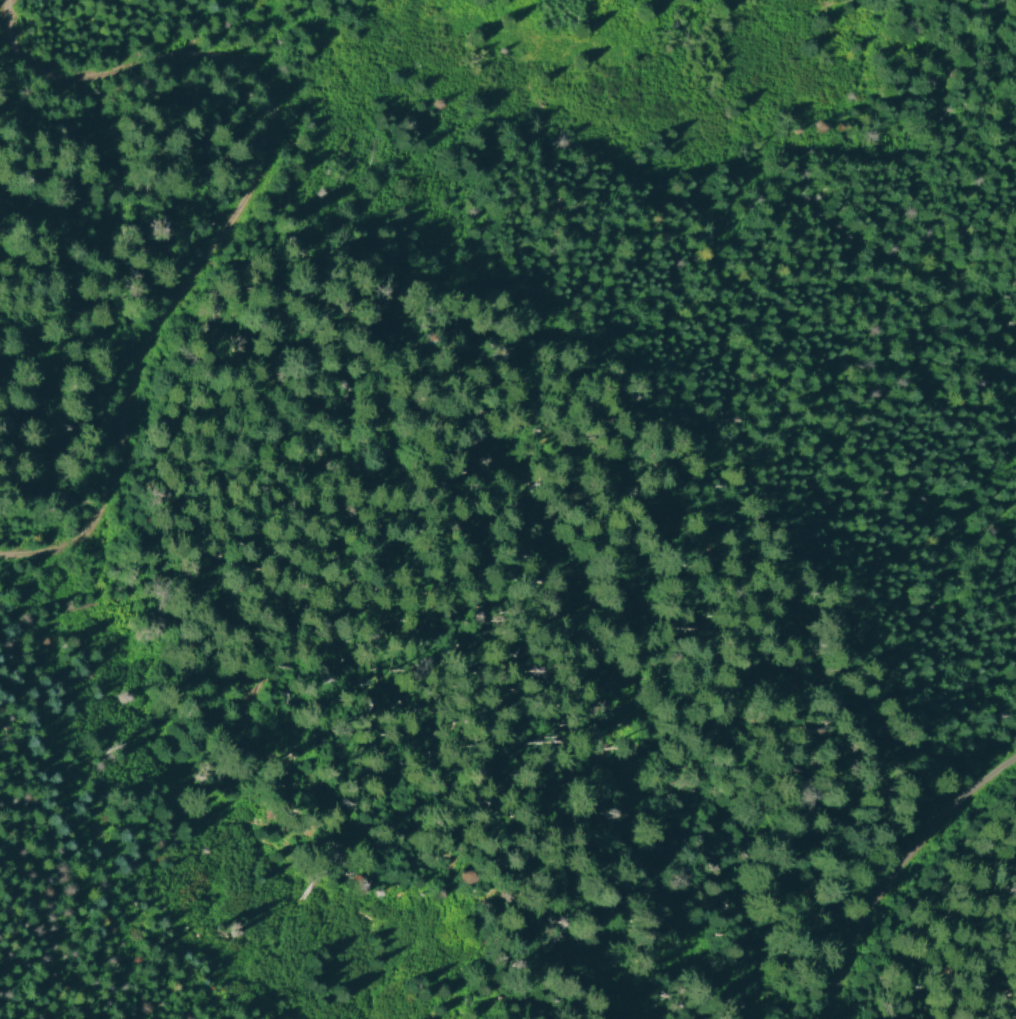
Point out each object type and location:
road: (255, 202)
road: (899, 869)

